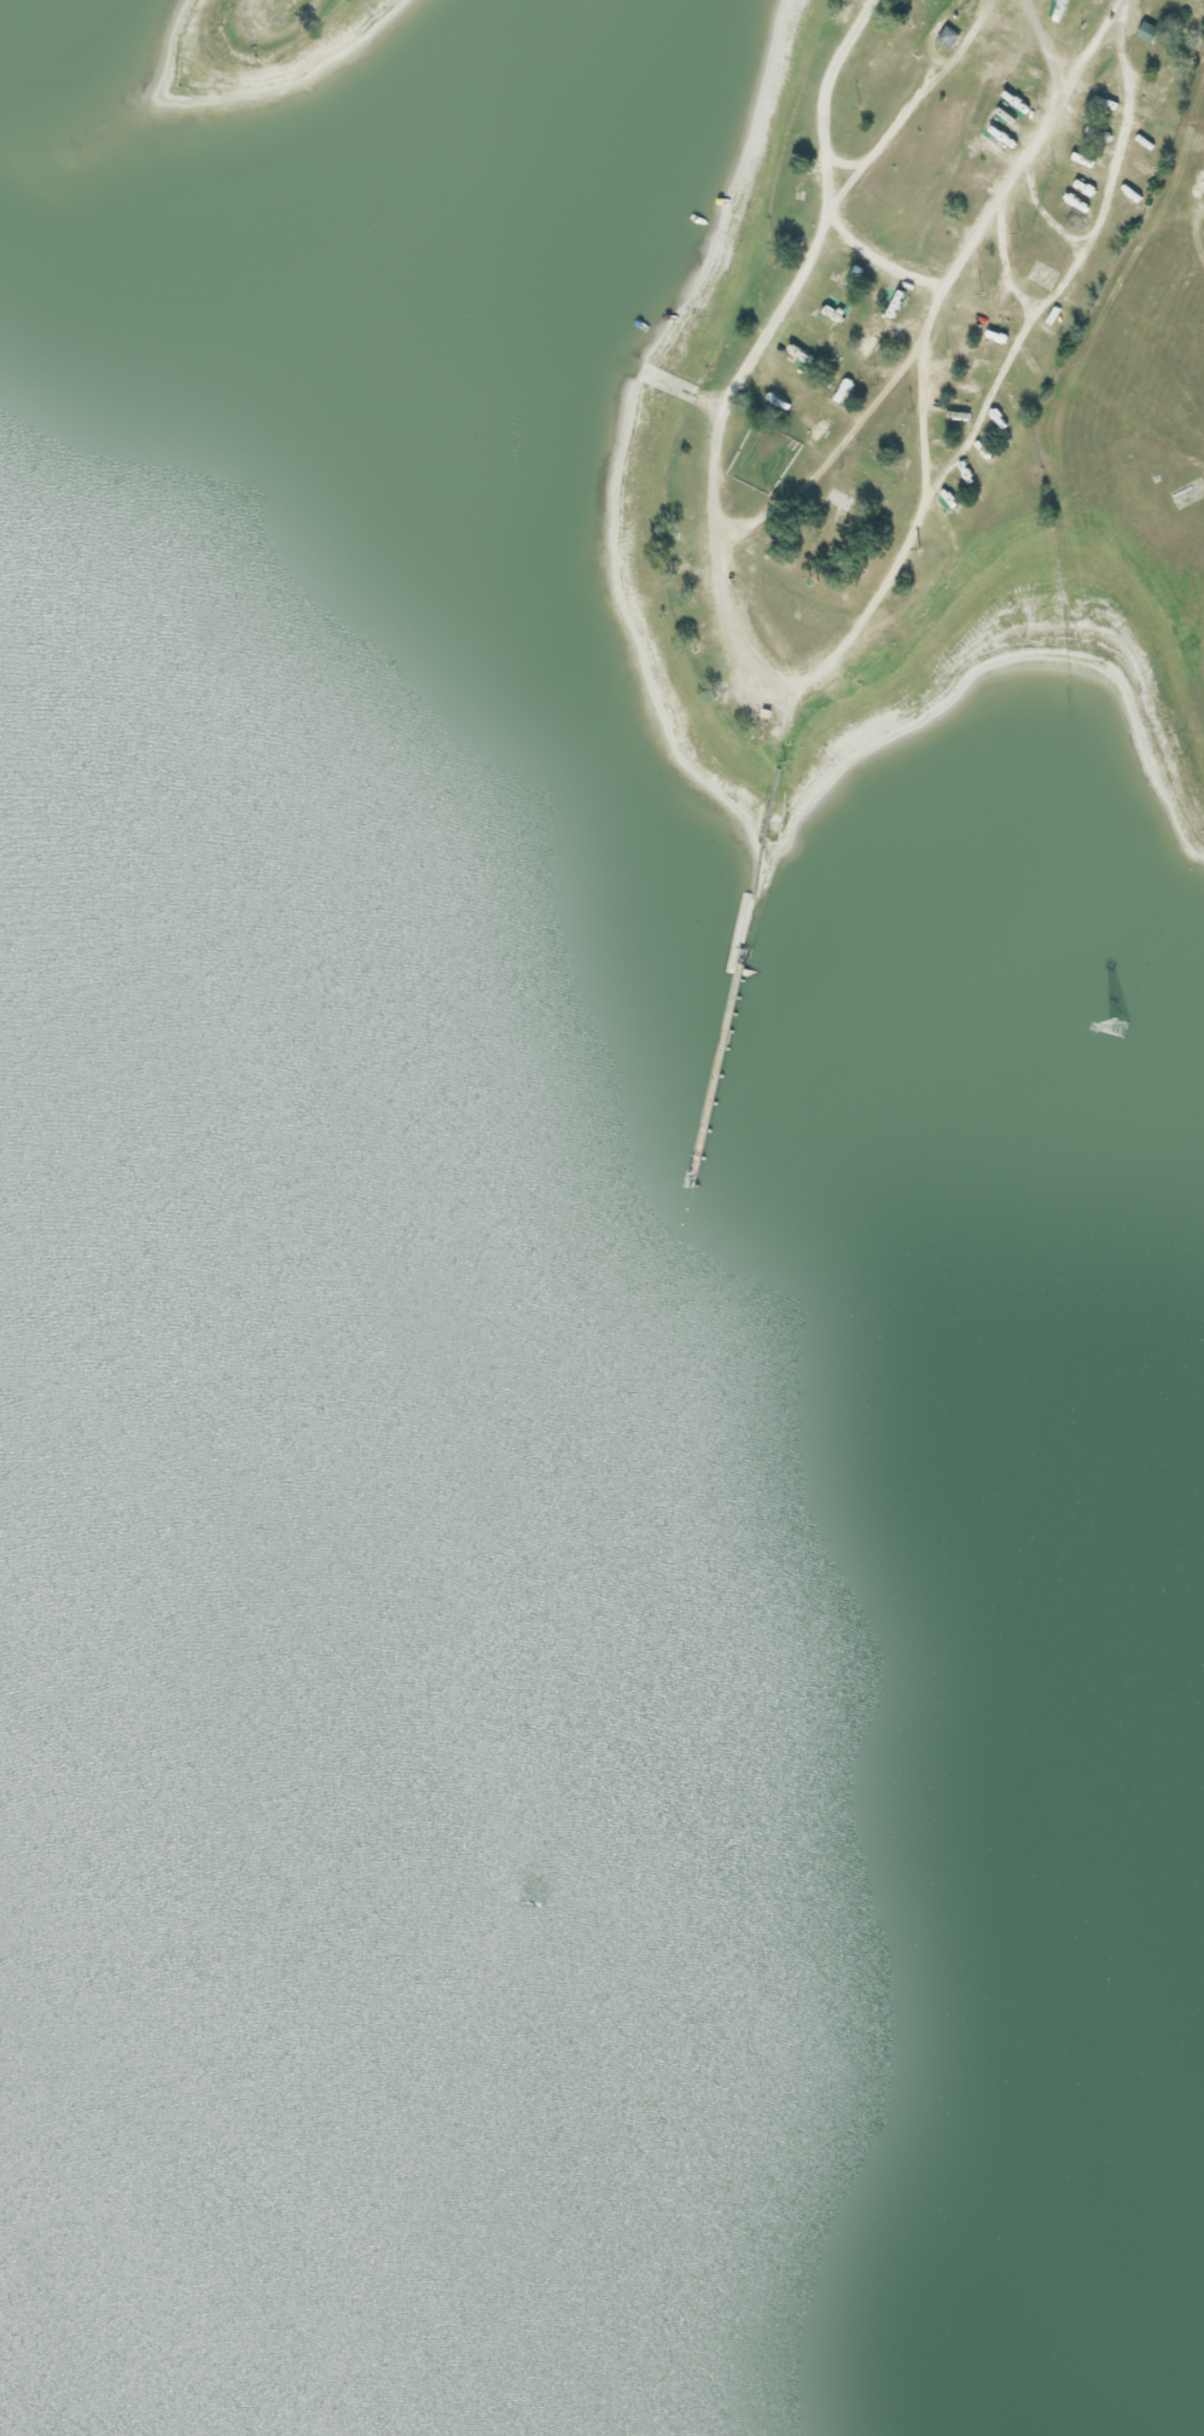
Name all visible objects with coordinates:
building: (1088, 7)
building: (1146, 33)
building: (946, 39)
road: (1083, 43)
building: (1158, 86)
road: (908, 99)
road: (1005, 178)
road: (1035, 207)
road: (877, 263)
road: (1069, 269)
road: (797, 274)
building: (949, 423)
road: (723, 540)
building: (237, 1571)
building: (478, 2098)

